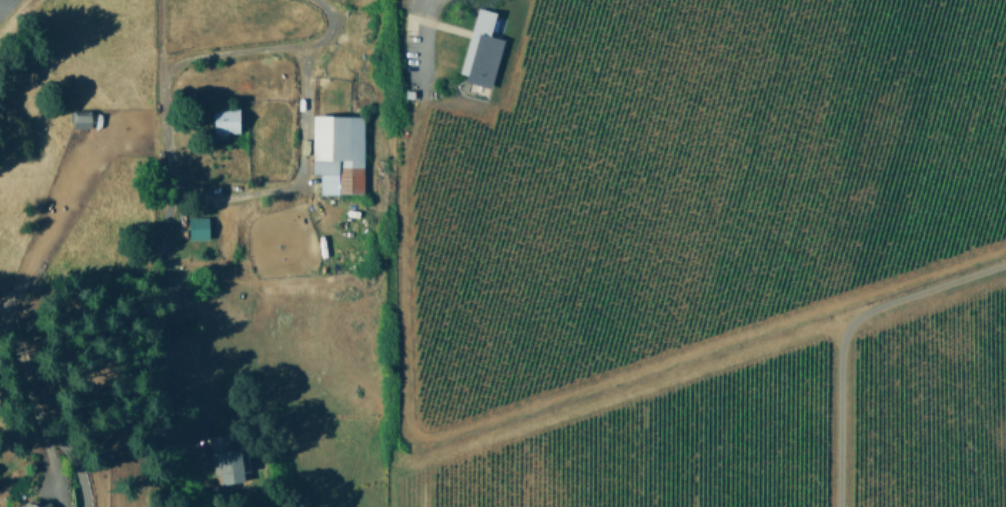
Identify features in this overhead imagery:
road: (2, 2)
road: (417, 24)
road: (268, 45)
building: (480, 51)
building: (79, 118)
building: (223, 121)
building: (338, 152)
road: (299, 174)
road: (170, 207)
building: (198, 227)
road: (846, 330)
building: (33, 504)

